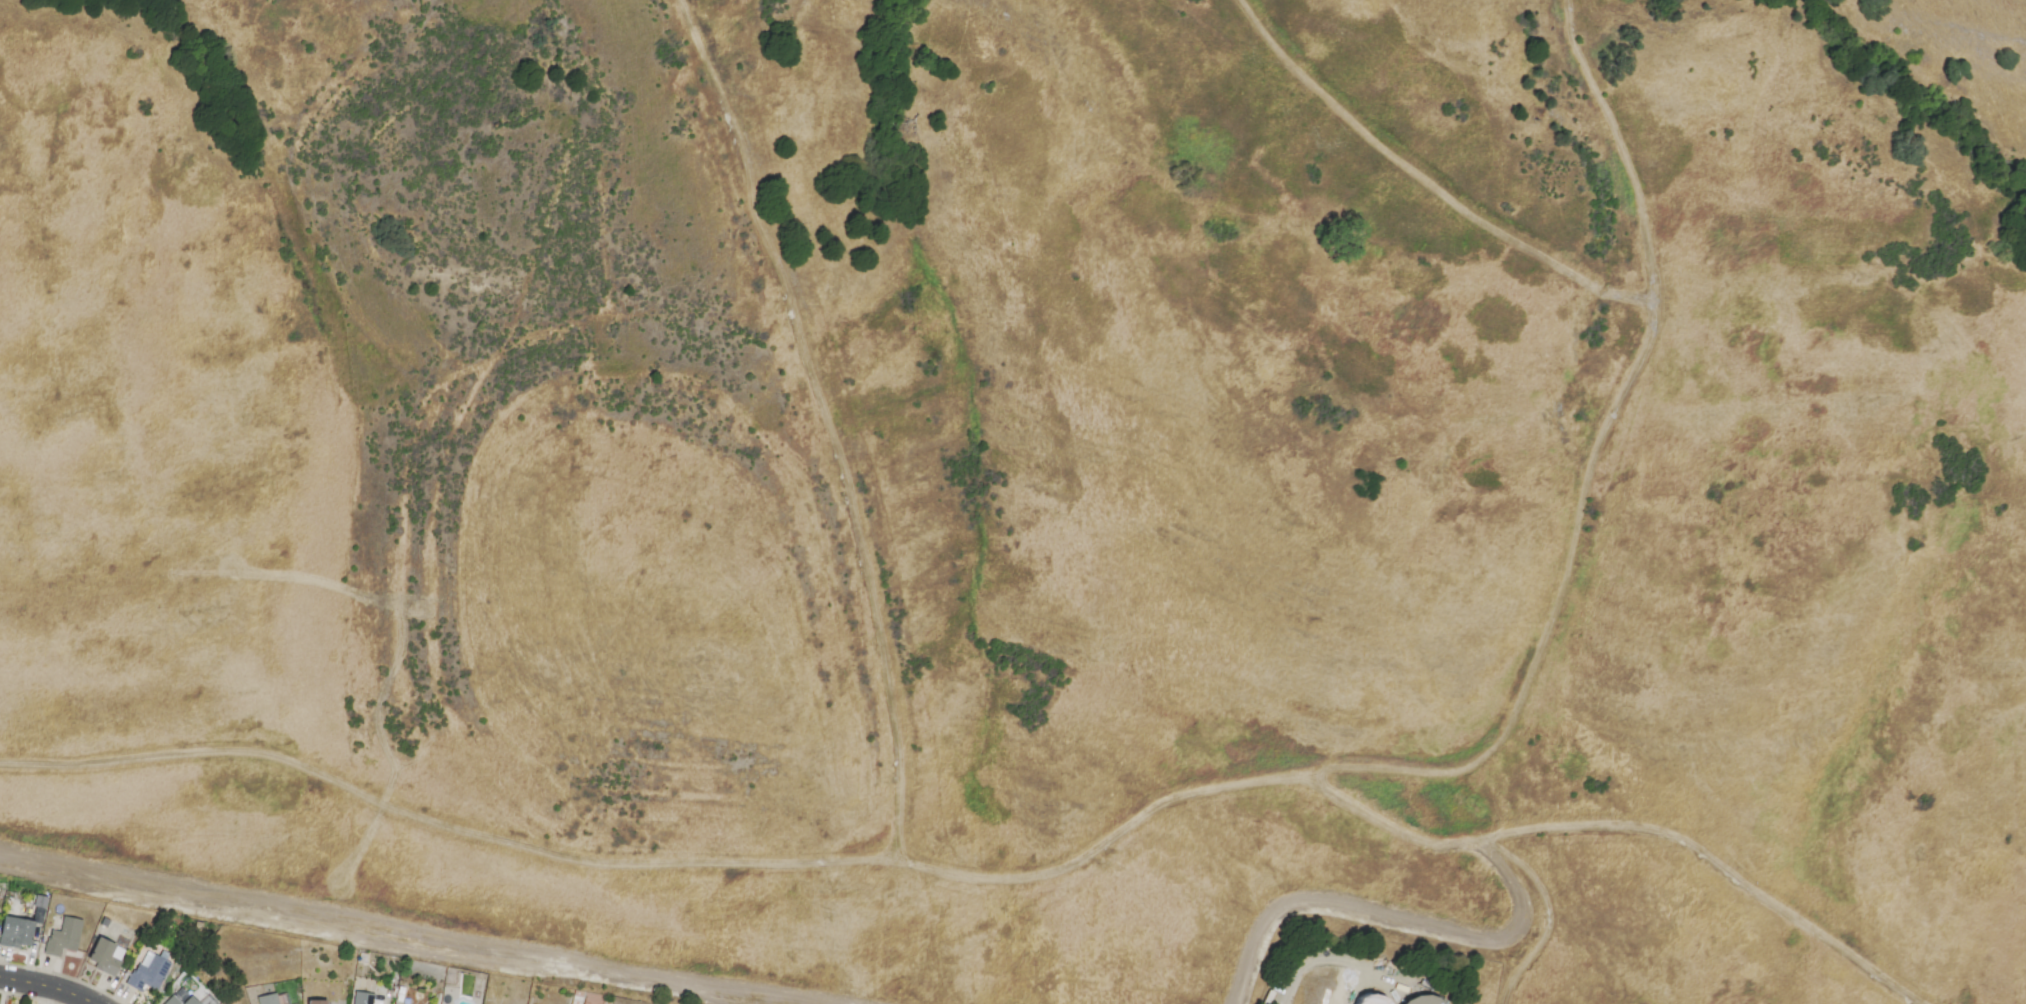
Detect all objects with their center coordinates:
road: (1425, 182)
road: (825, 420)
road: (1565, 583)
road: (663, 865)
road: (1719, 865)
road: (1537, 887)
road: (1368, 913)
building: (15, 932)
road: (385, 934)
building: (63, 937)
building: (104, 956)
road: (1336, 961)
building: (148, 971)
road: (1520, 977)
building: (1330, 986)
storage tank: (1330, 986)
road: (45, 987)
street lamp: (112, 993)
building: (363, 998)
building: (267, 999)
building: (590, 999)
building: (1425, 1000)
storage tank: (1425, 1000)
building: (315, 1002)

